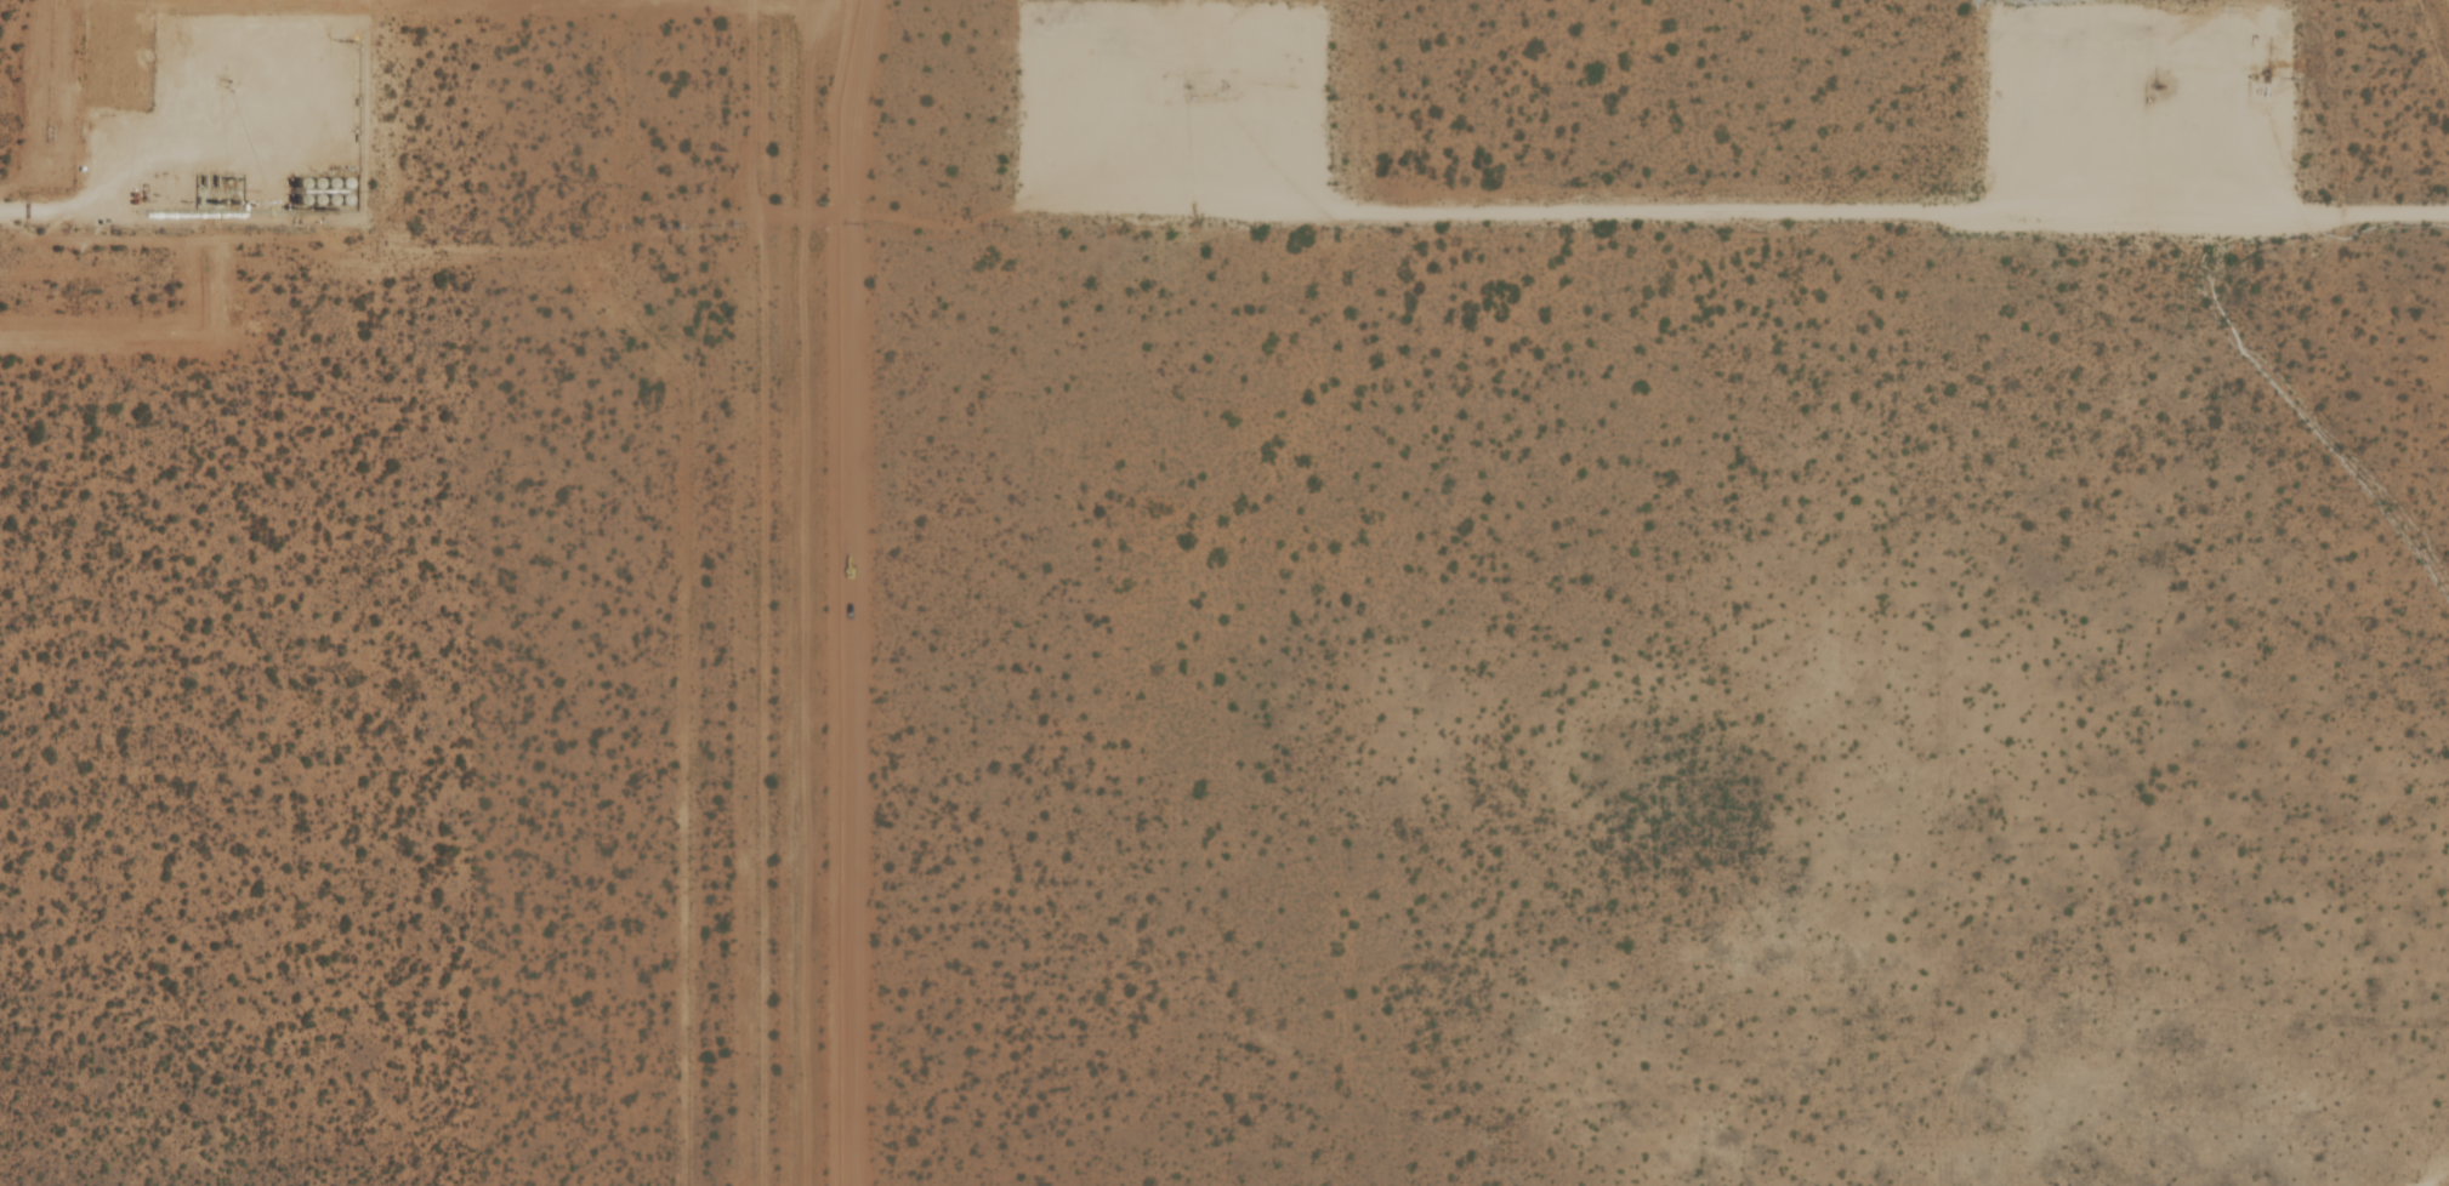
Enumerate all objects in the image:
petroleum well: (223, 79)
petroleum well: (2155, 85)
petroleum well: (1186, 86)
road: (1118, 95)
road: (198, 109)
road: (2154, 119)
road: (53, 204)
road: (1737, 217)

